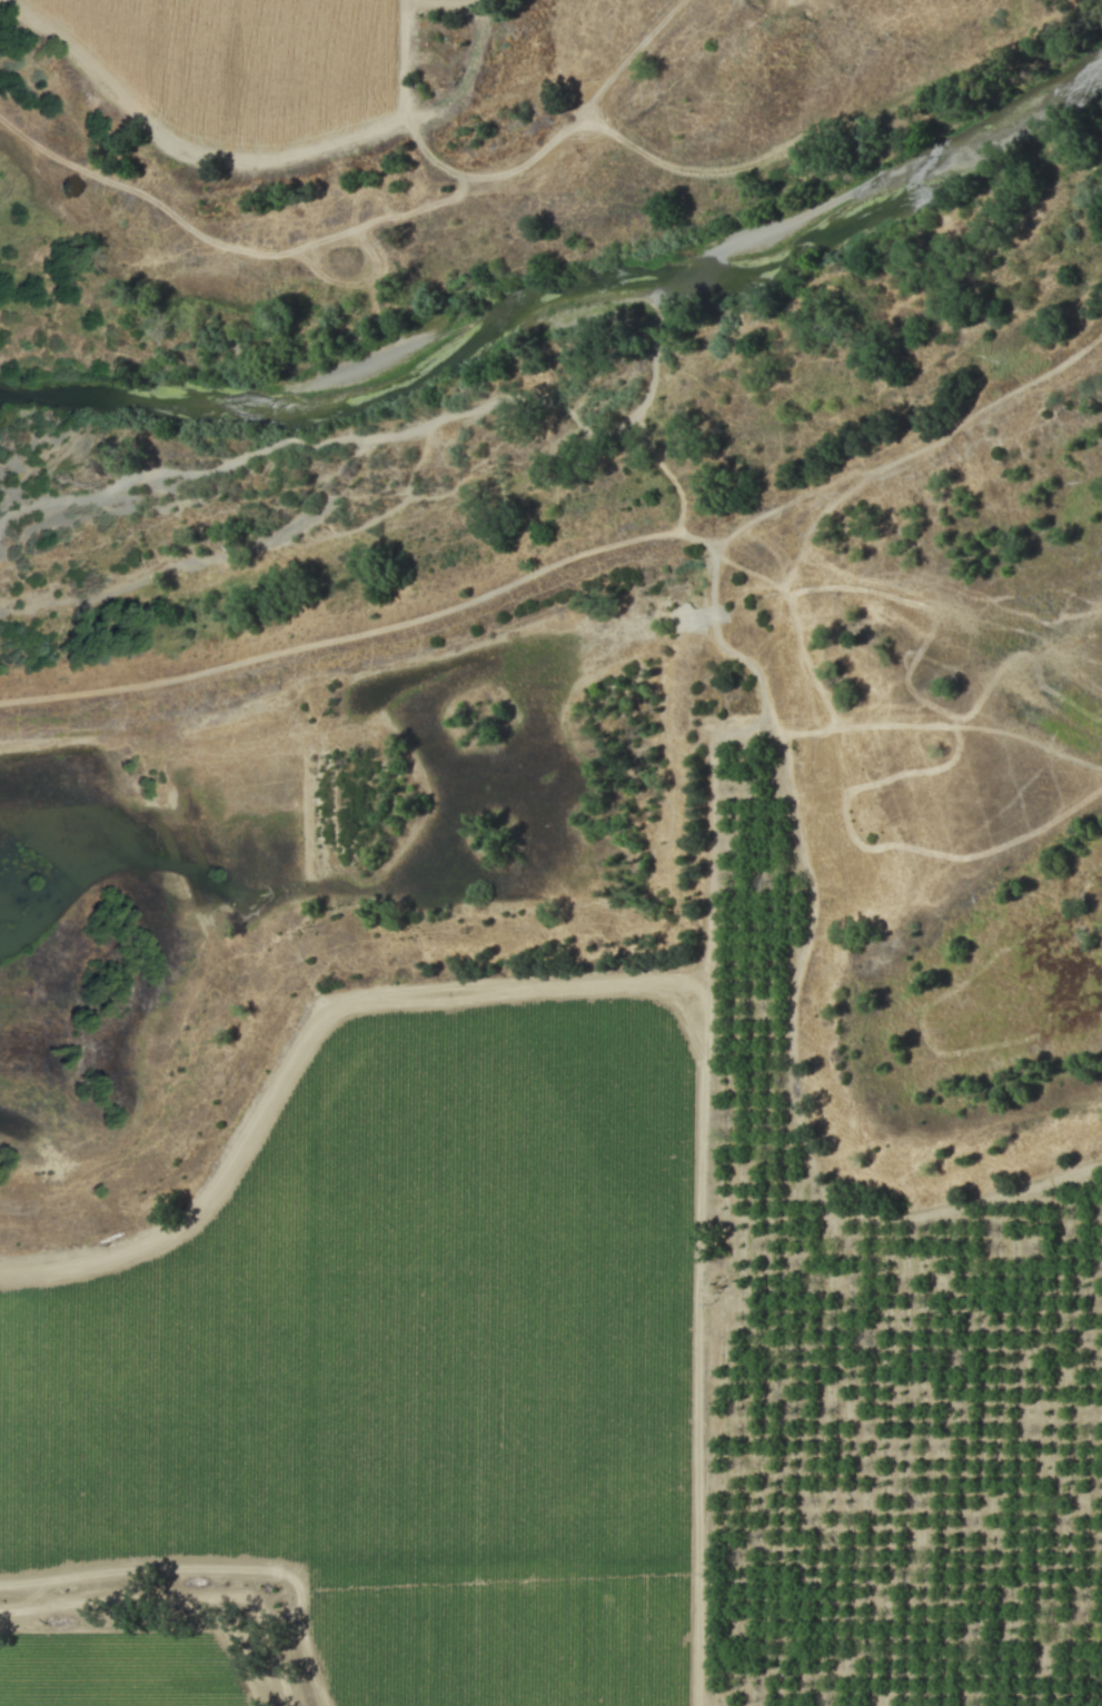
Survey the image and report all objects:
road: (400, 9)
river: (563, 298)

